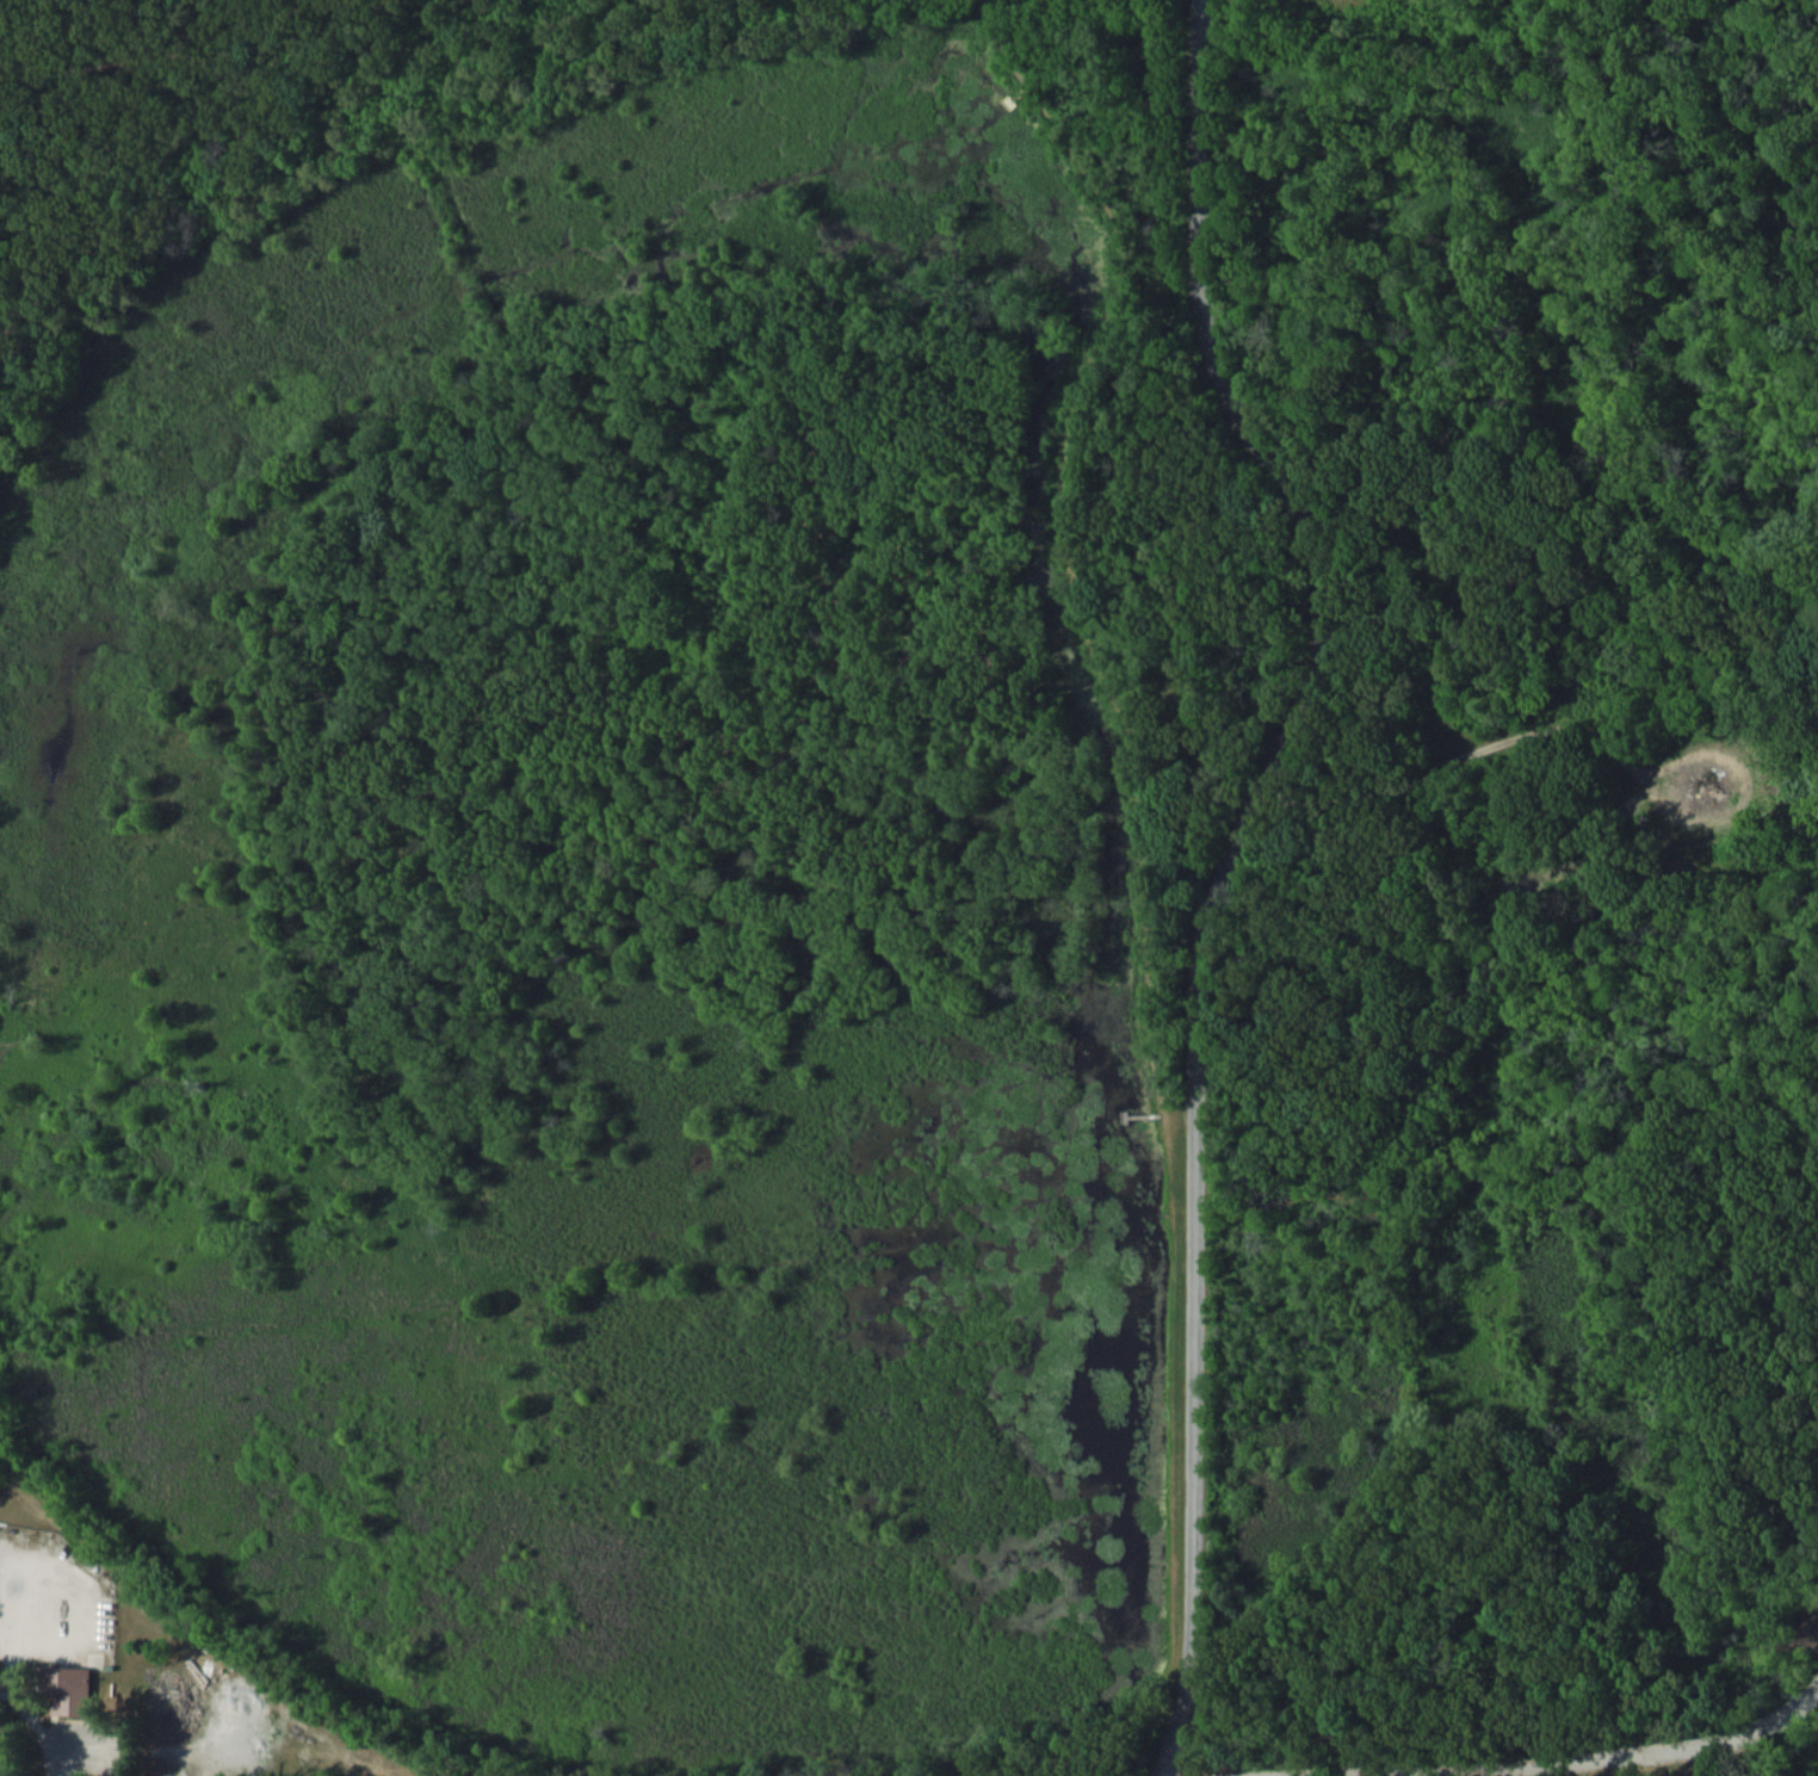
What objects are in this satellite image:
road: (307, 30)
road: (109, 67)
road: (149, 162)
road: (1066, 534)
road: (1473, 759)
road: (1224, 862)
road: (140, 1611)
building: (70, 1693)
road: (44, 1722)
road: (1509, 1755)
road: (1155, 1774)
road: (1161, 1774)

